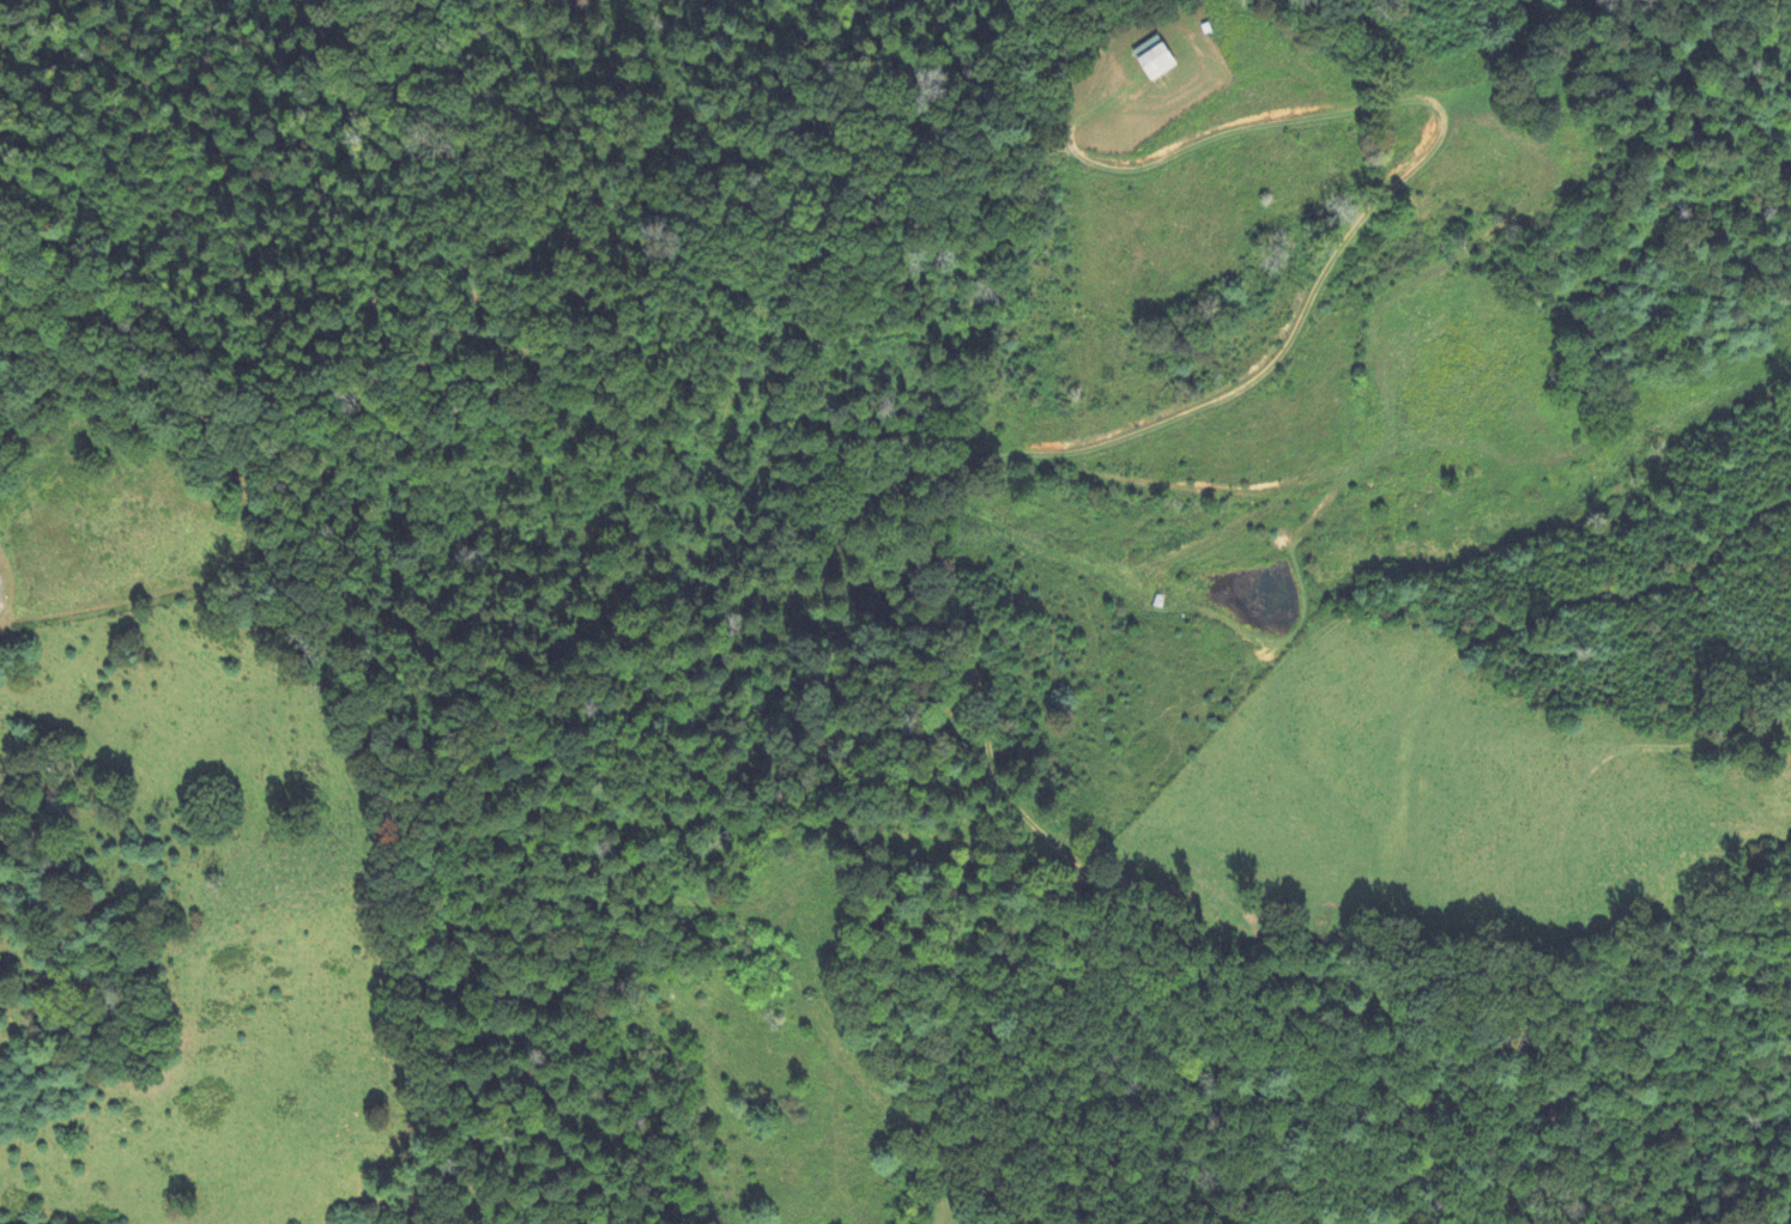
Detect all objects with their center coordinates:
building: (1161, 57)

